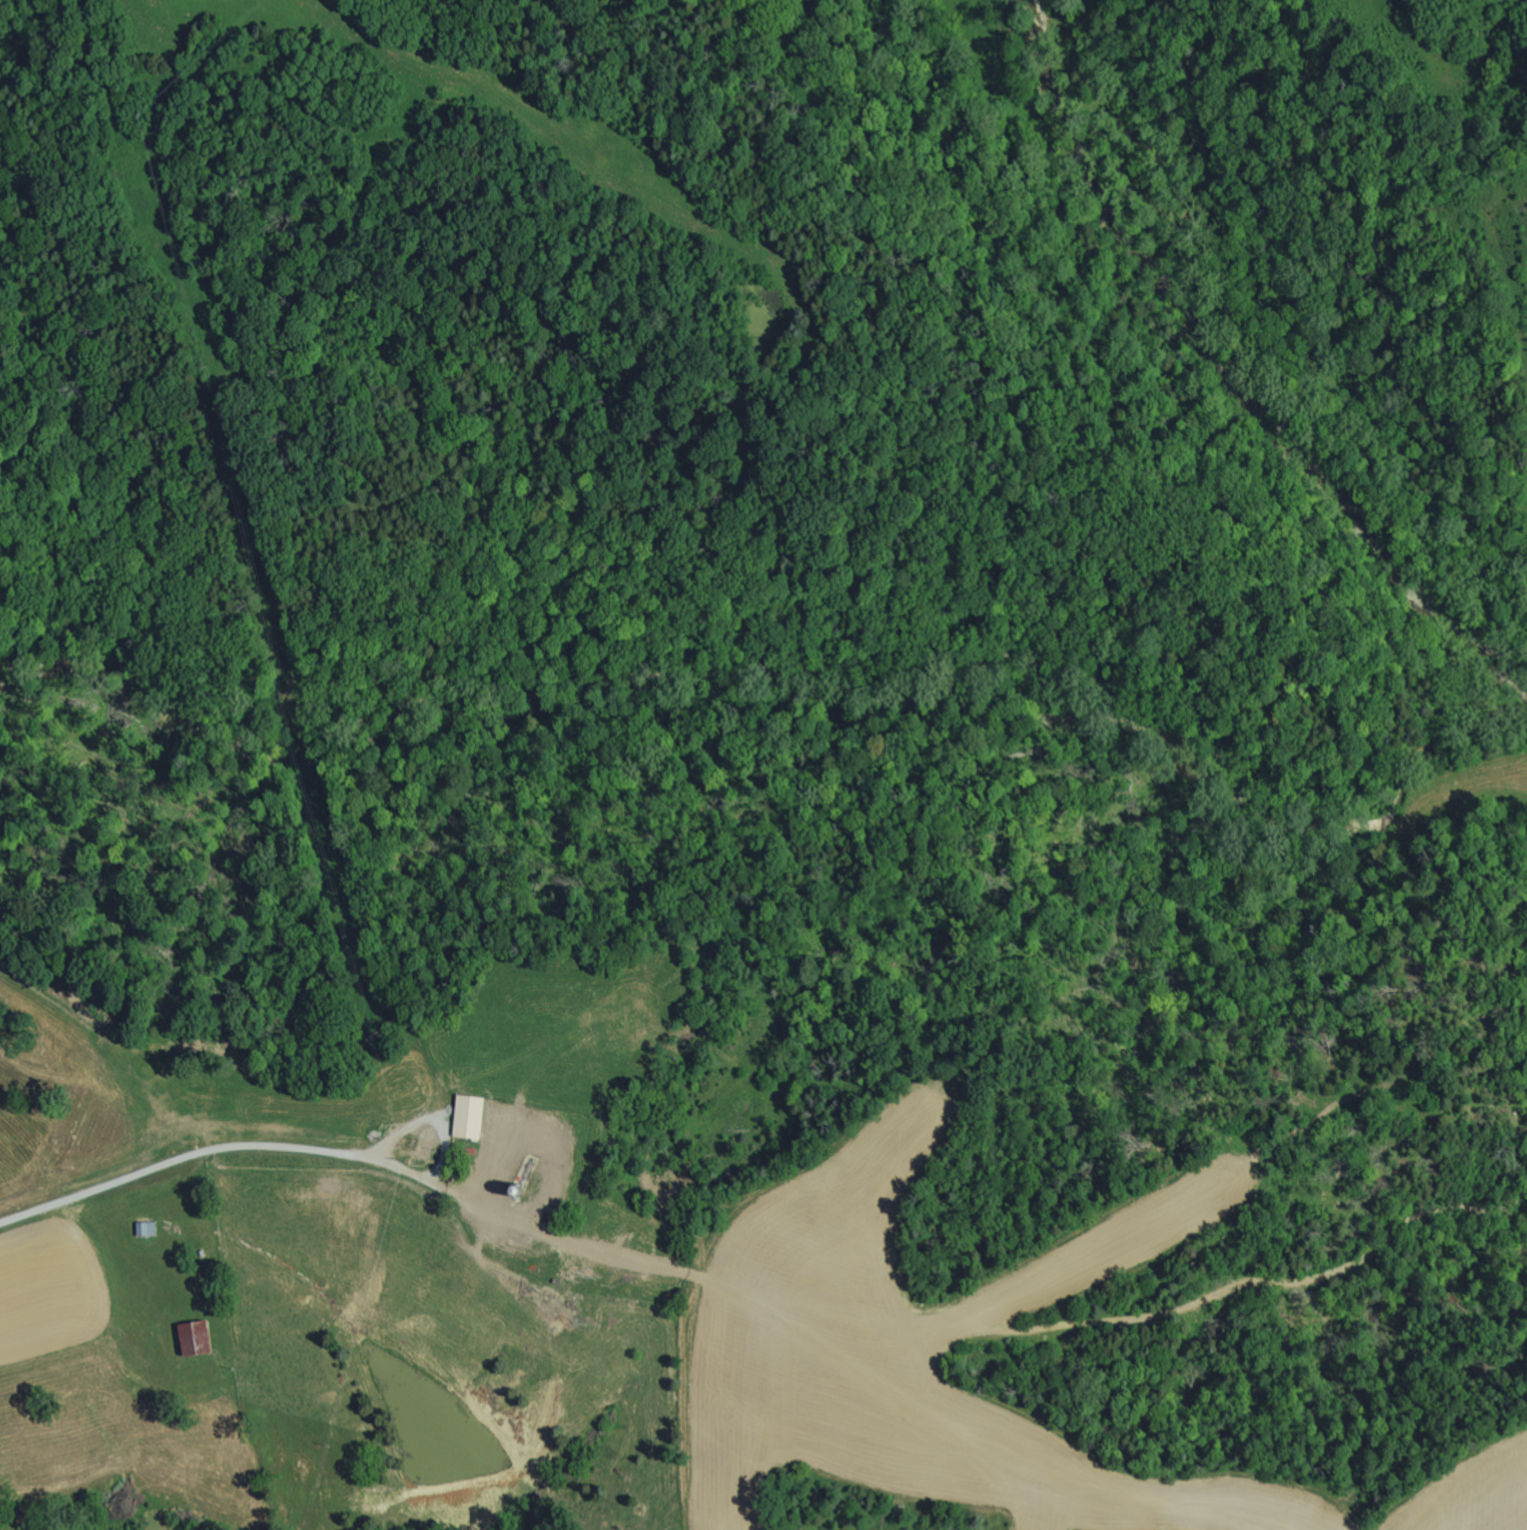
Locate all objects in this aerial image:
building: (468, 1117)
road: (101, 1188)
building: (196, 1337)

